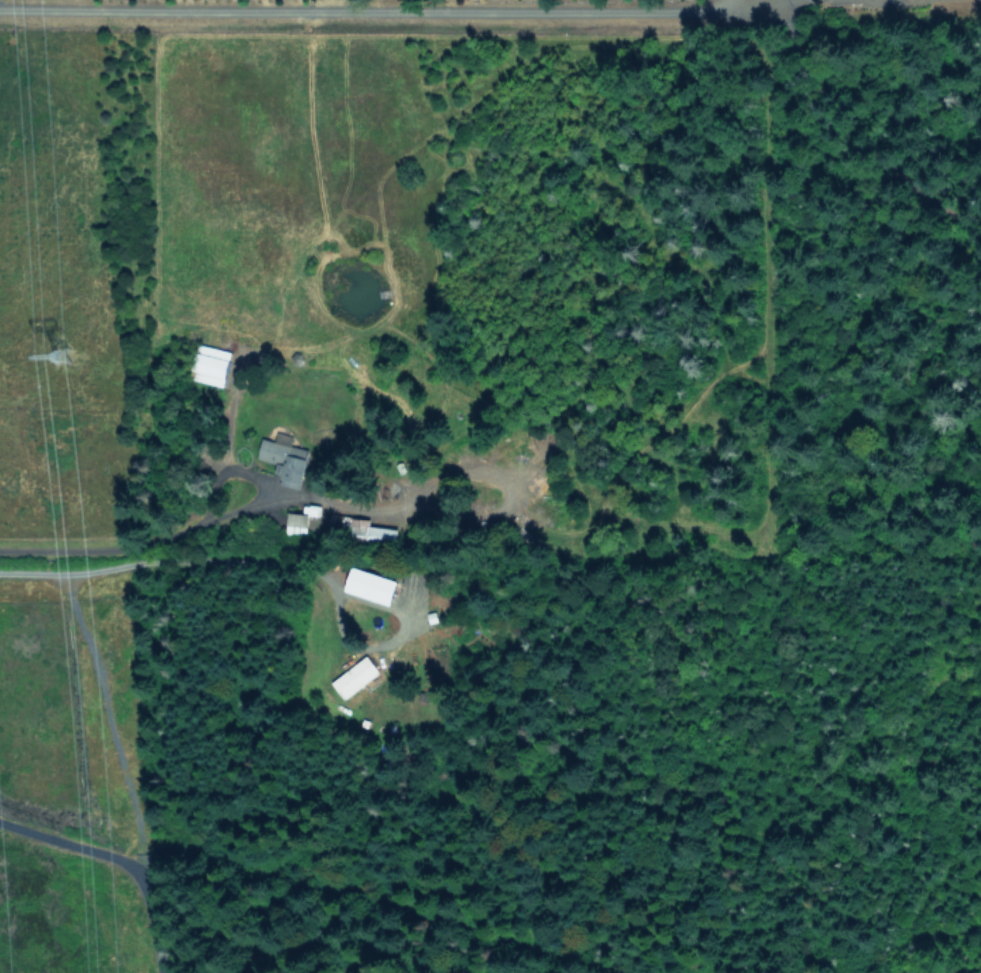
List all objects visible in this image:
road: (772, 2)
road: (368, 9)
building: (212, 364)
power tower: (71, 369)
building: (286, 459)
road: (187, 519)
building: (297, 522)
building: (382, 532)
road: (168, 559)
building: (372, 585)
road: (395, 640)
building: (355, 676)
road: (120, 856)

